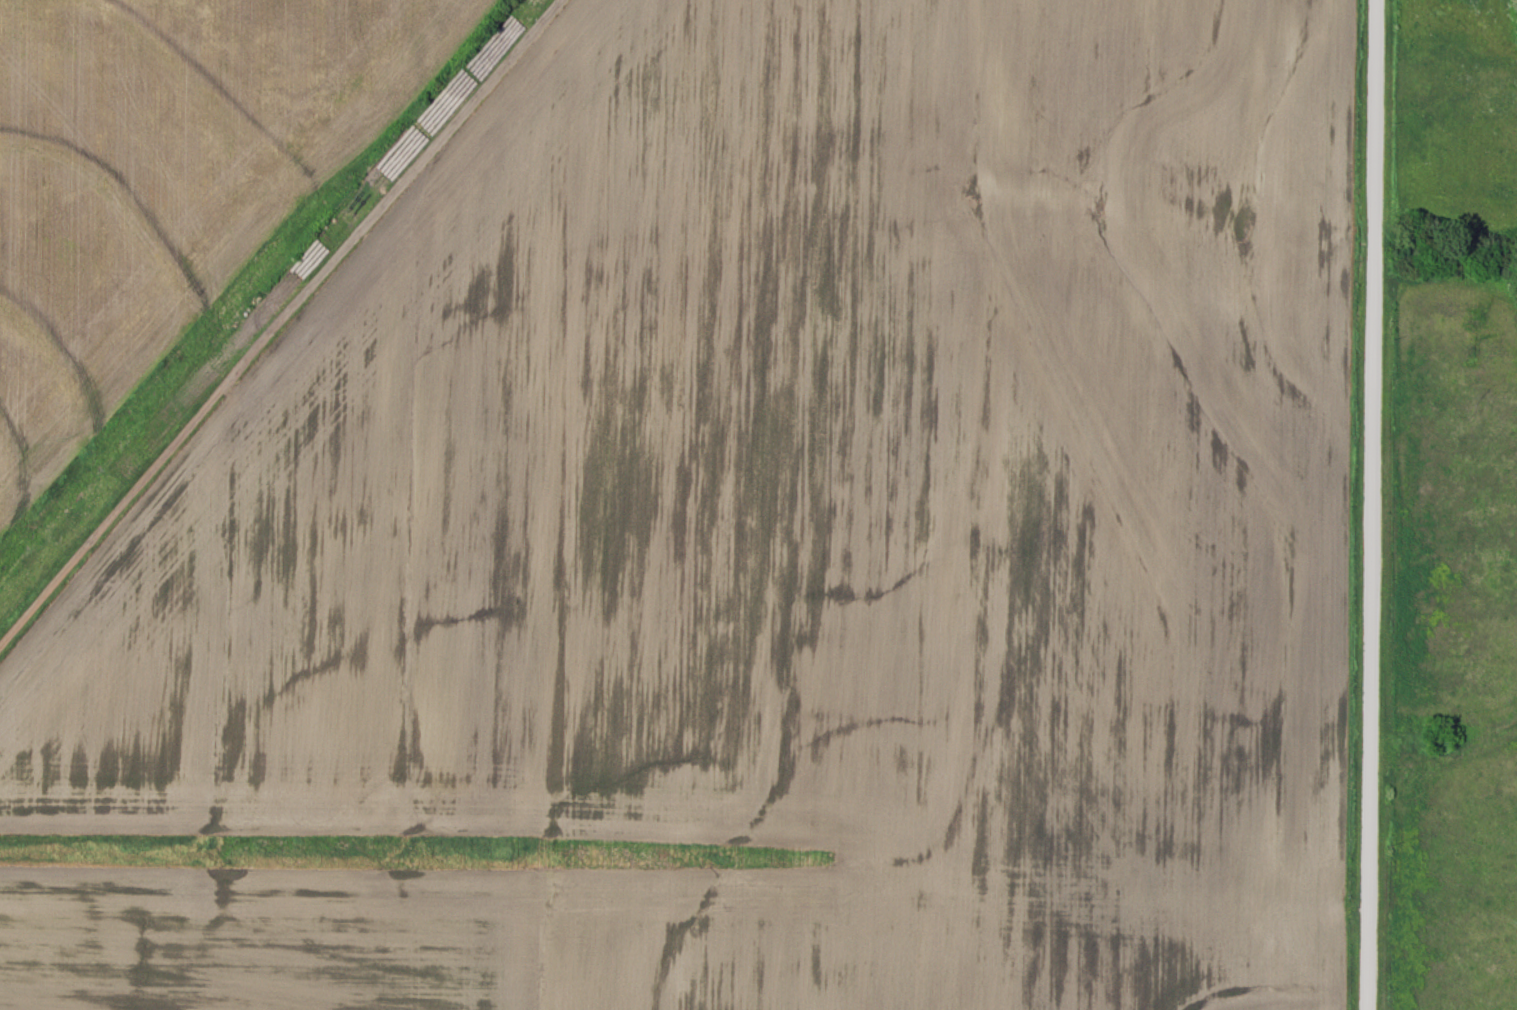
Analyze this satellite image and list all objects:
road: (1369, 505)
crop: (768, 541)

